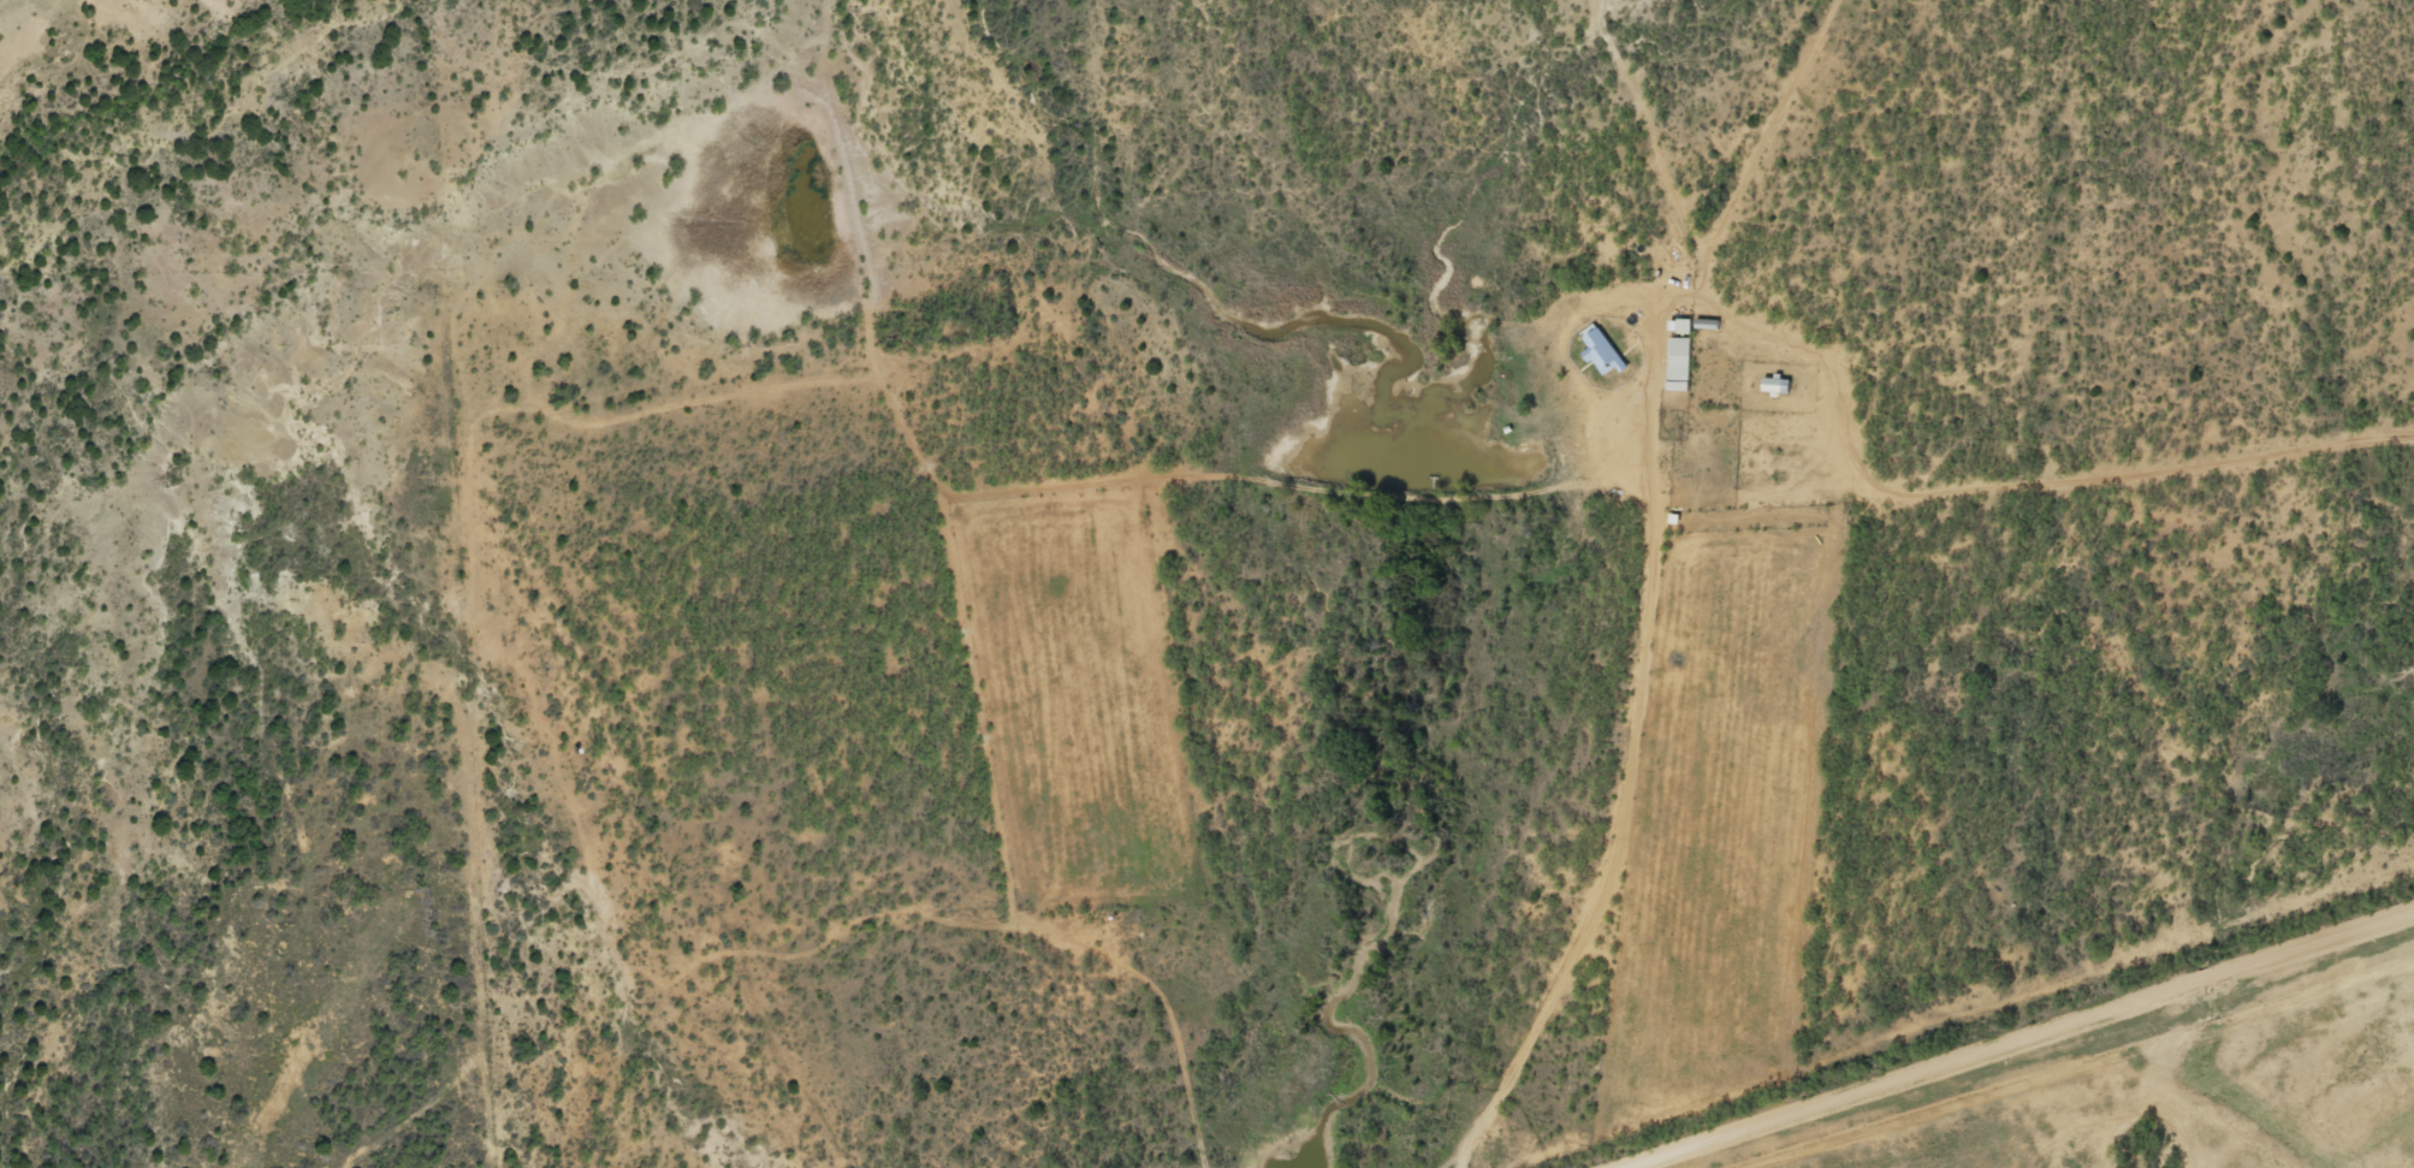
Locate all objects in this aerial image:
building: (1603, 349)
building: (1683, 363)
road: (2018, 1037)

